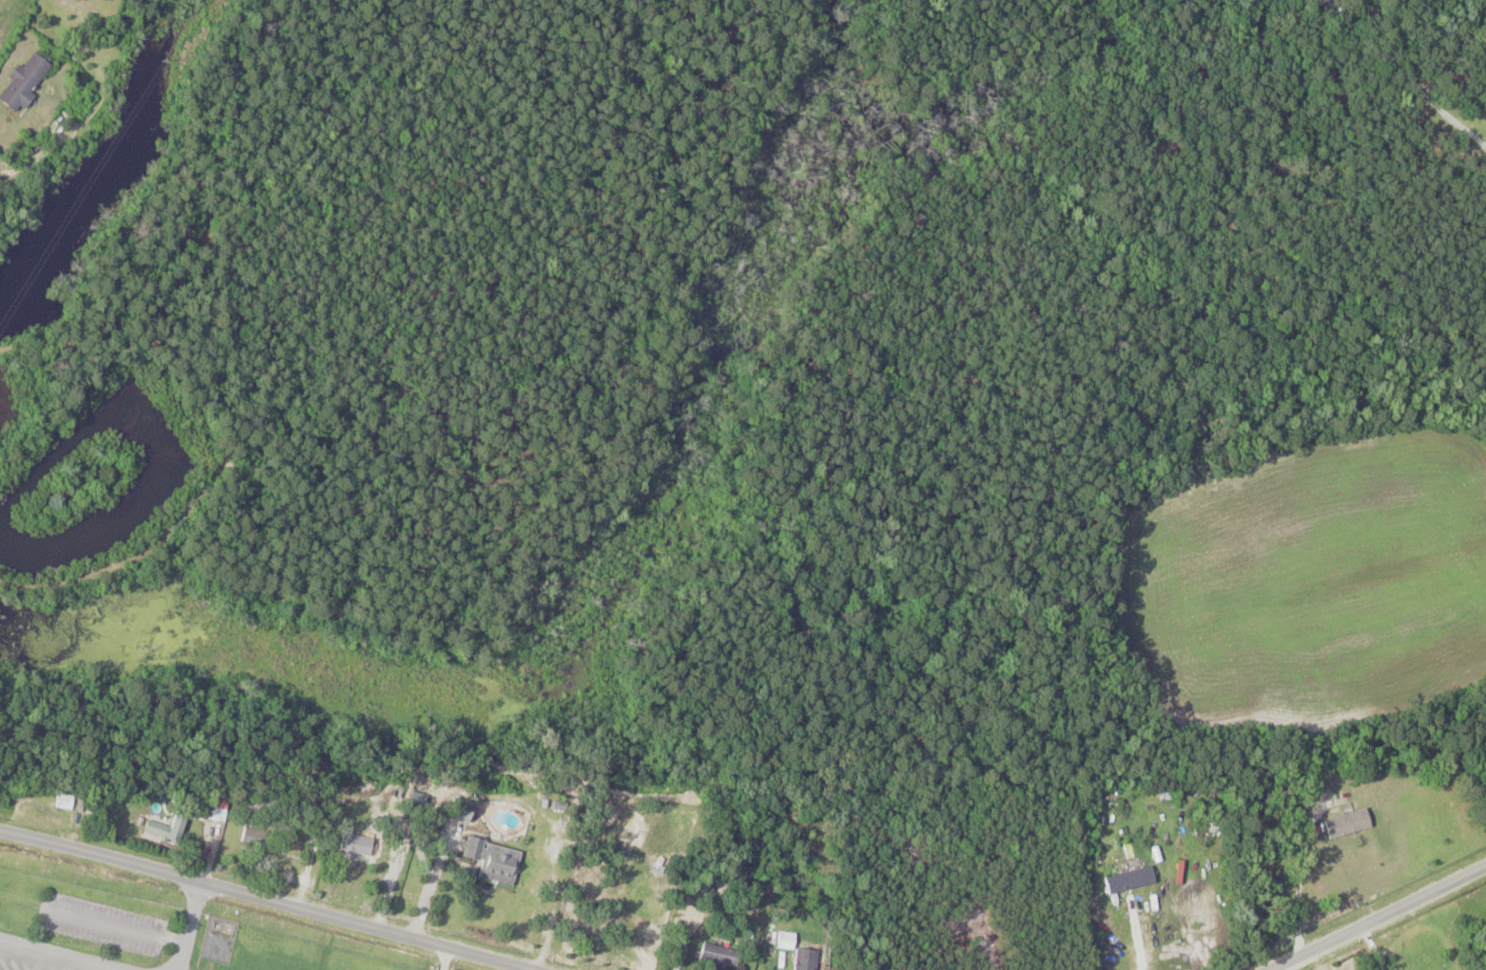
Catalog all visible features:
building: (22, 83)
building: (62, 802)
building: (454, 811)
building: (1345, 824)
building: (163, 830)
building: (631, 837)
building: (354, 845)
building: (491, 862)
road: (1299, 868)
building: (1127, 879)
building: (704, 887)
road: (276, 896)
road: (1378, 915)
road: (193, 923)
parking lot: (103, 925)
road: (115, 927)
road: (1130, 930)
road: (61, 954)
road: (448, 955)
building: (715, 955)
parking lot: (40, 959)
building: (798, 959)

